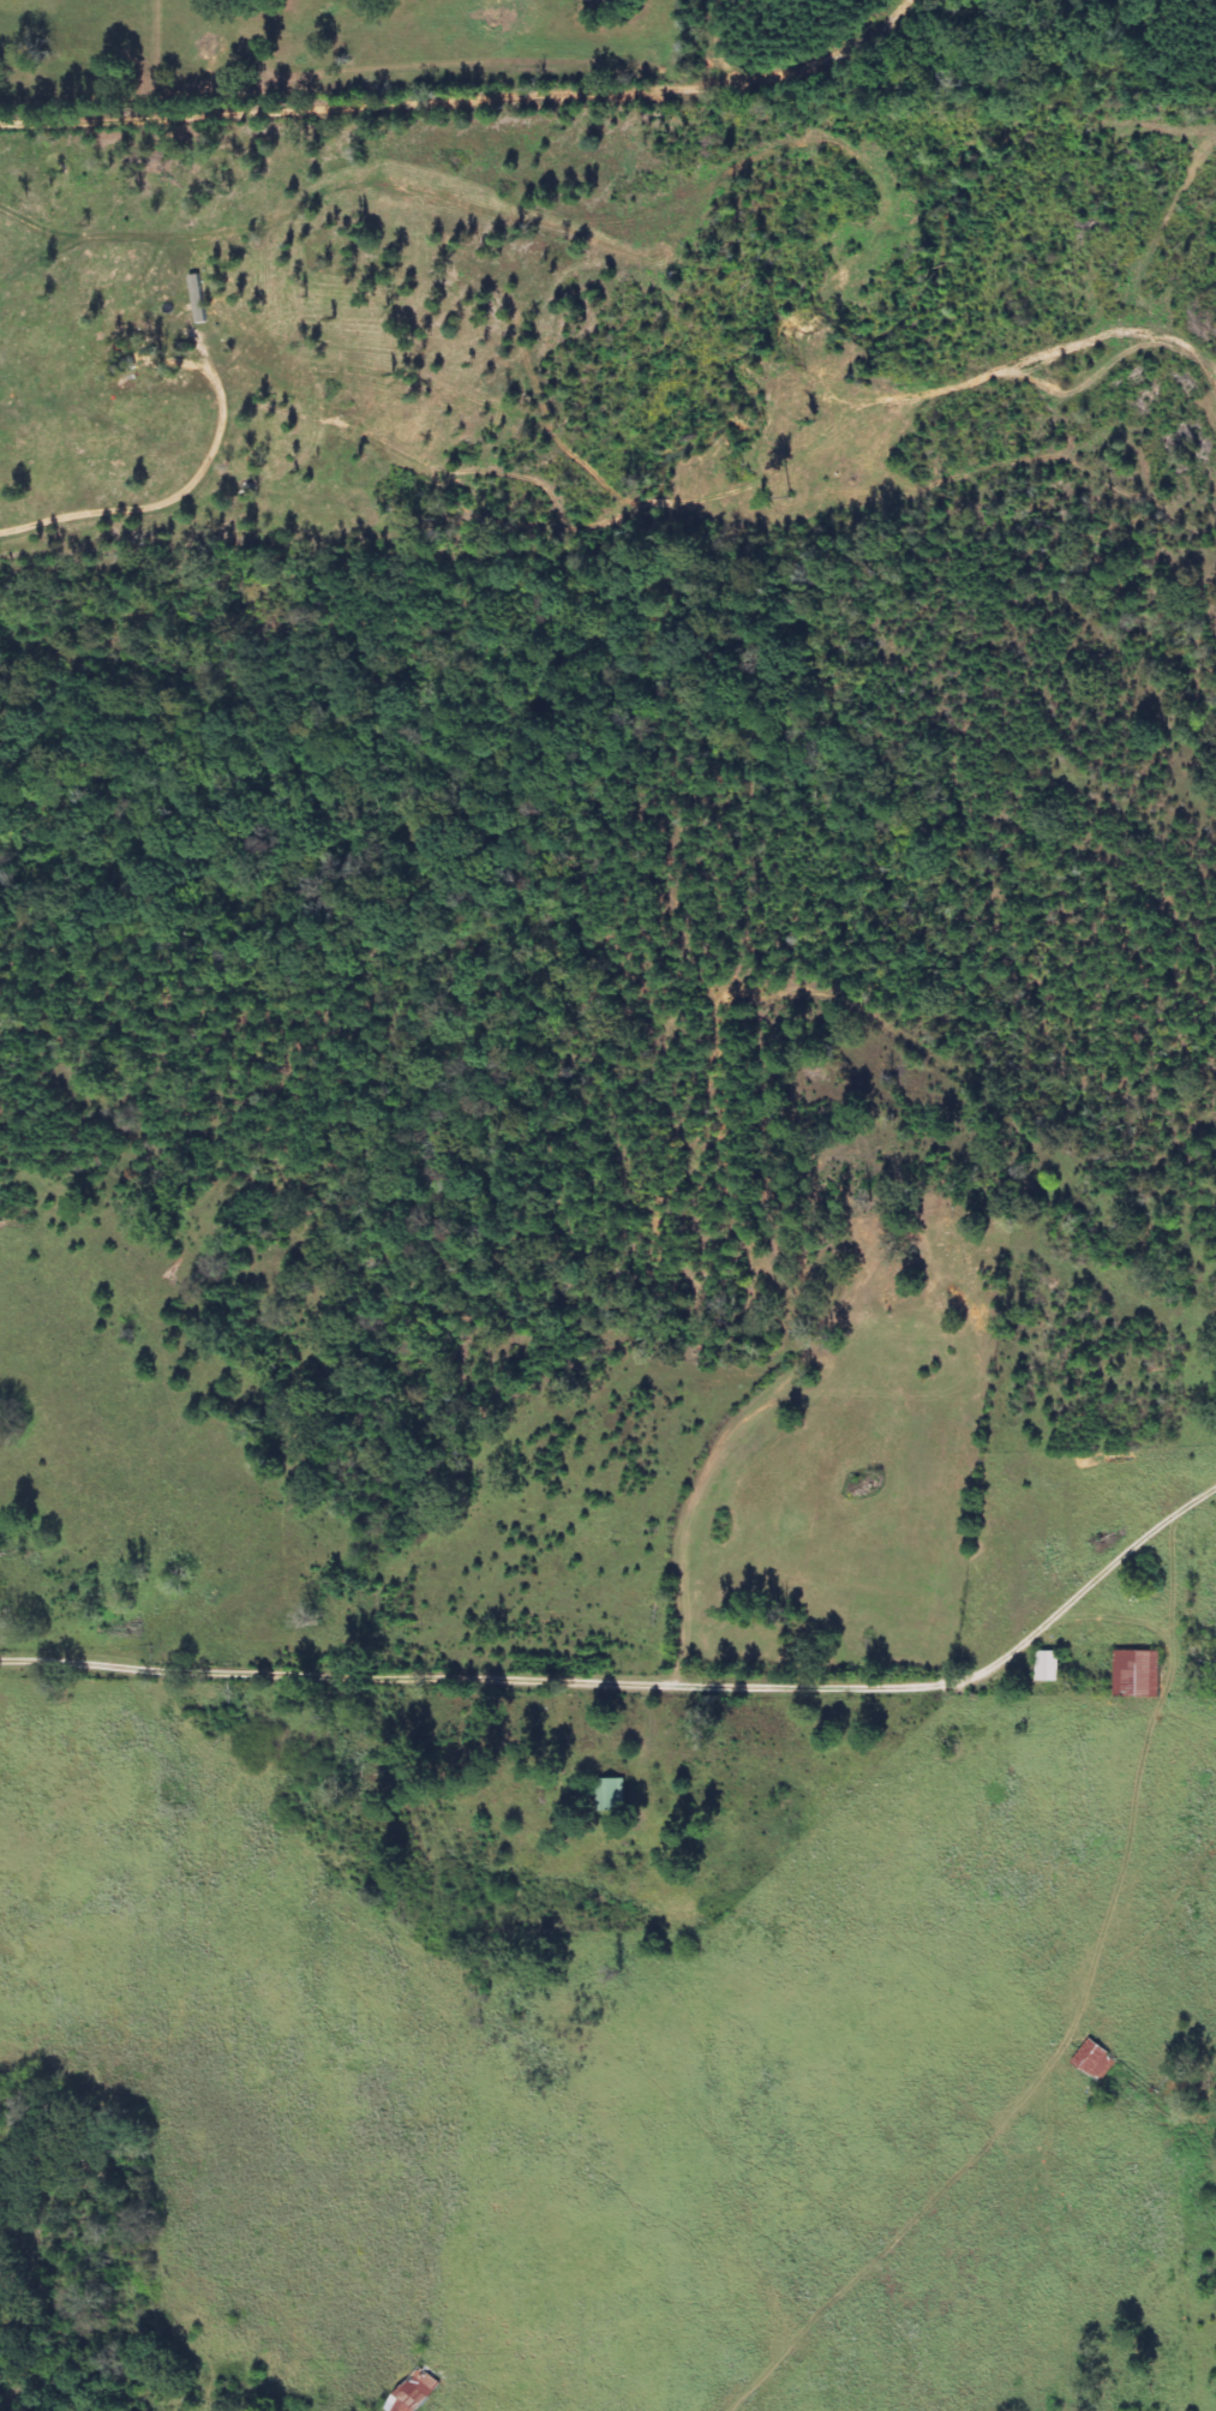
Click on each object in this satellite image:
park: (871, 1175)
building: (1048, 1667)
building: (1137, 1674)
road: (581, 1681)
building: (1096, 2059)
building: (414, 2392)

